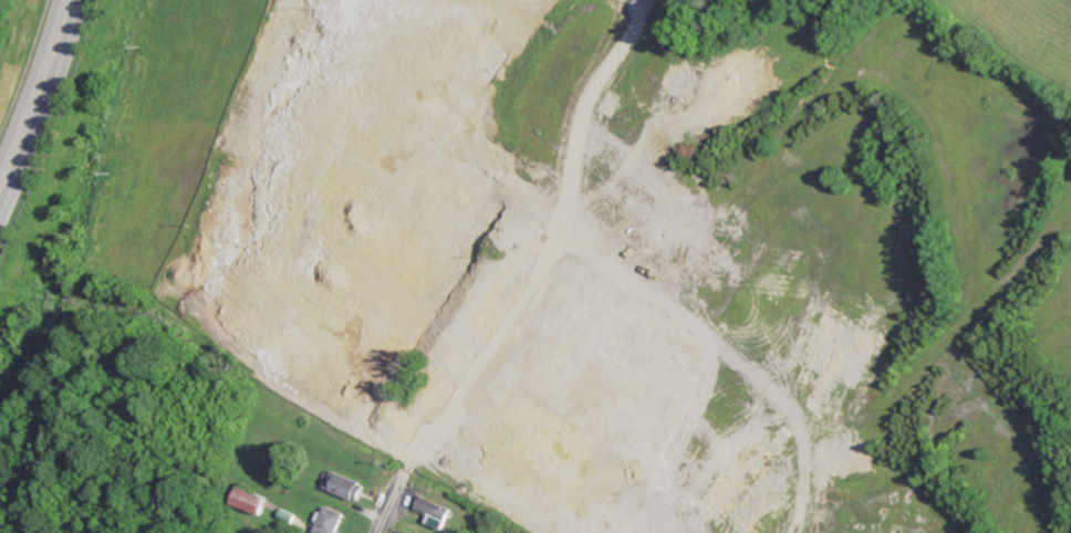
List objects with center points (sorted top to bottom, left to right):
building: (737, 82)
road: (35, 98)
building: (367, 276)
building: (293, 348)
building: (435, 397)
building: (347, 484)
building: (253, 499)
road: (392, 503)
building: (436, 510)
building: (331, 520)
building: (406, 531)

